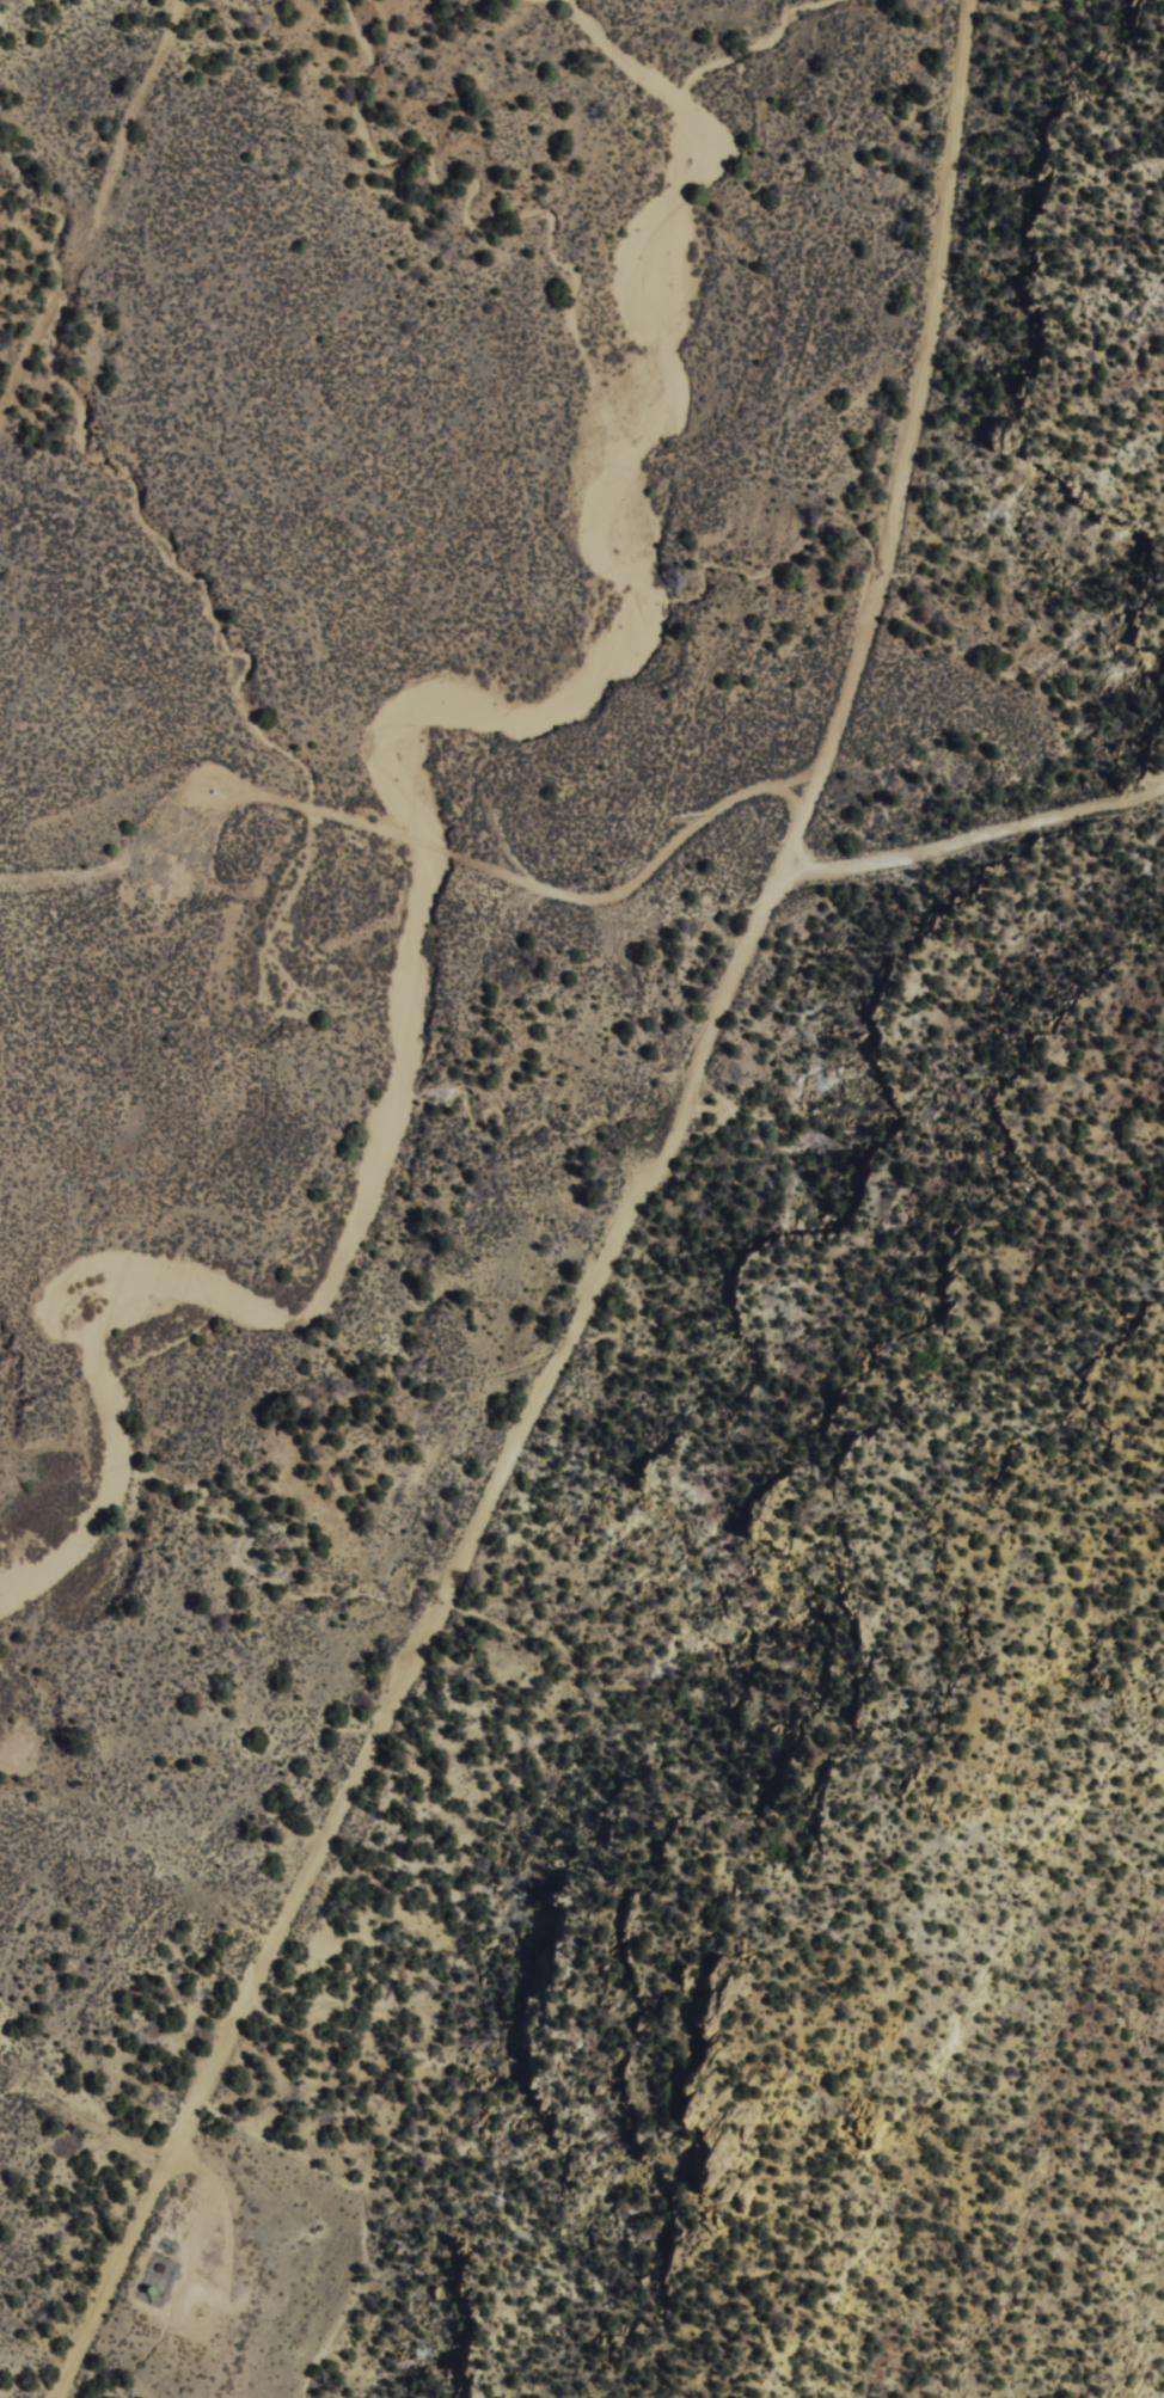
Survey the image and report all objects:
road: (488, 858)
road: (684, 1155)
road: (190, 2164)

